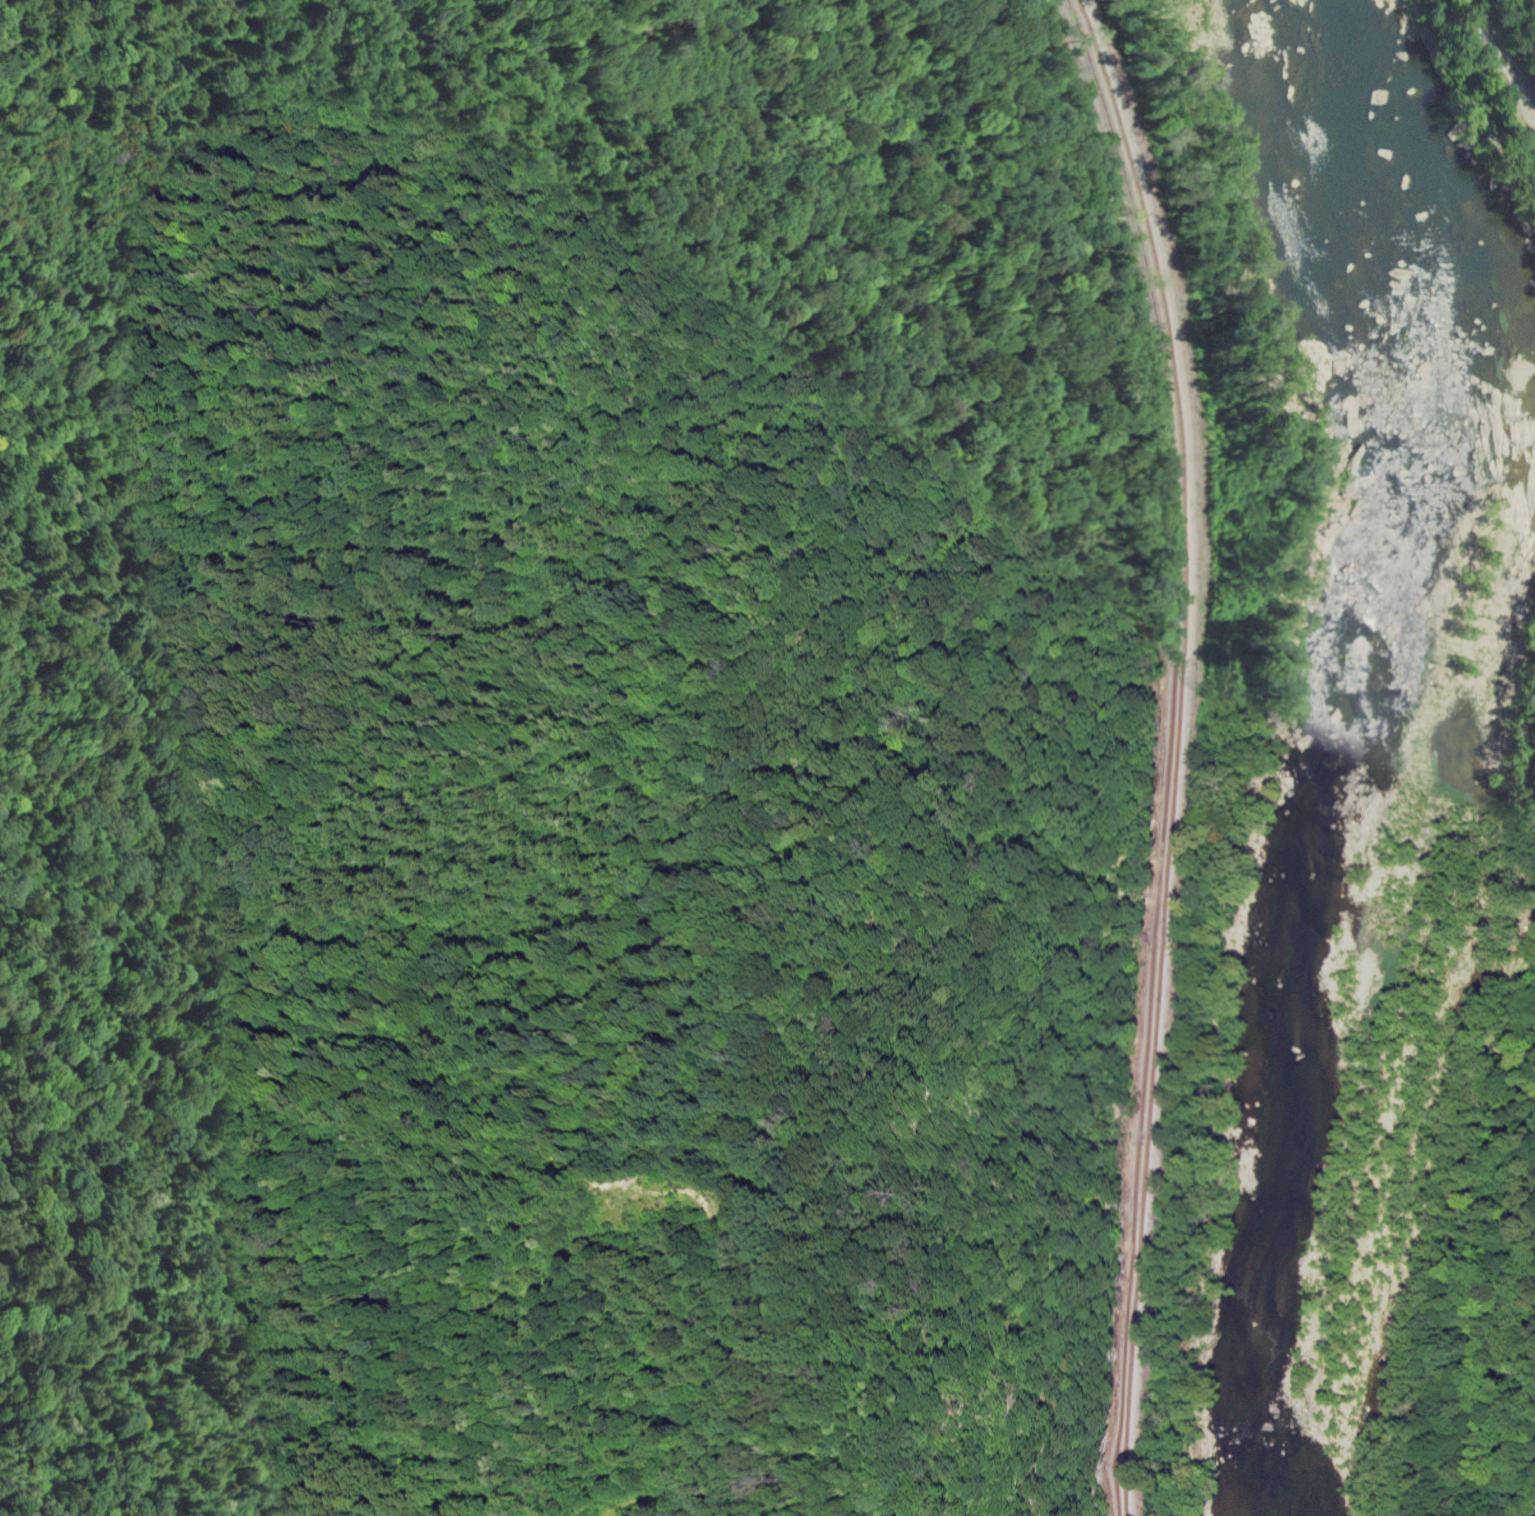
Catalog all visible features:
road: (1500, 51)
road: (344, 348)
railway: (1181, 750)
railway: (1191, 750)
river: (1346, 753)
road: (206, 1026)

